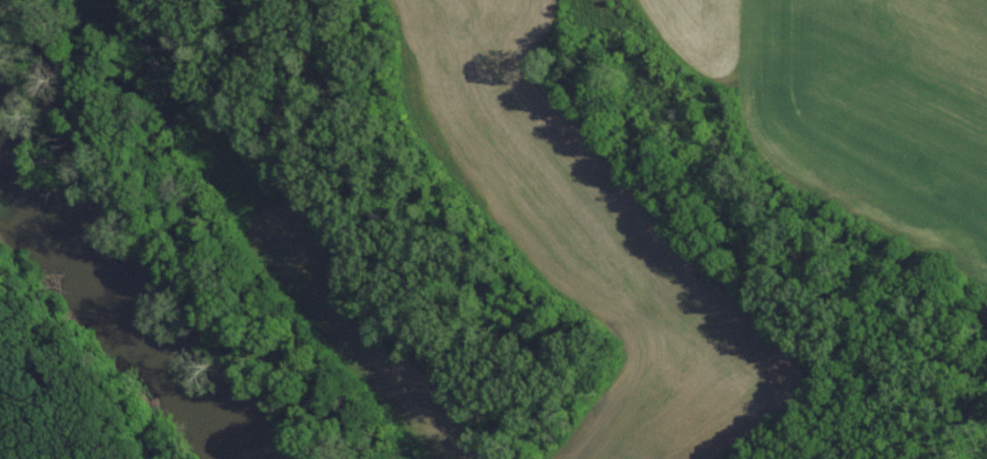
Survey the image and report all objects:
river: (142, 299)

